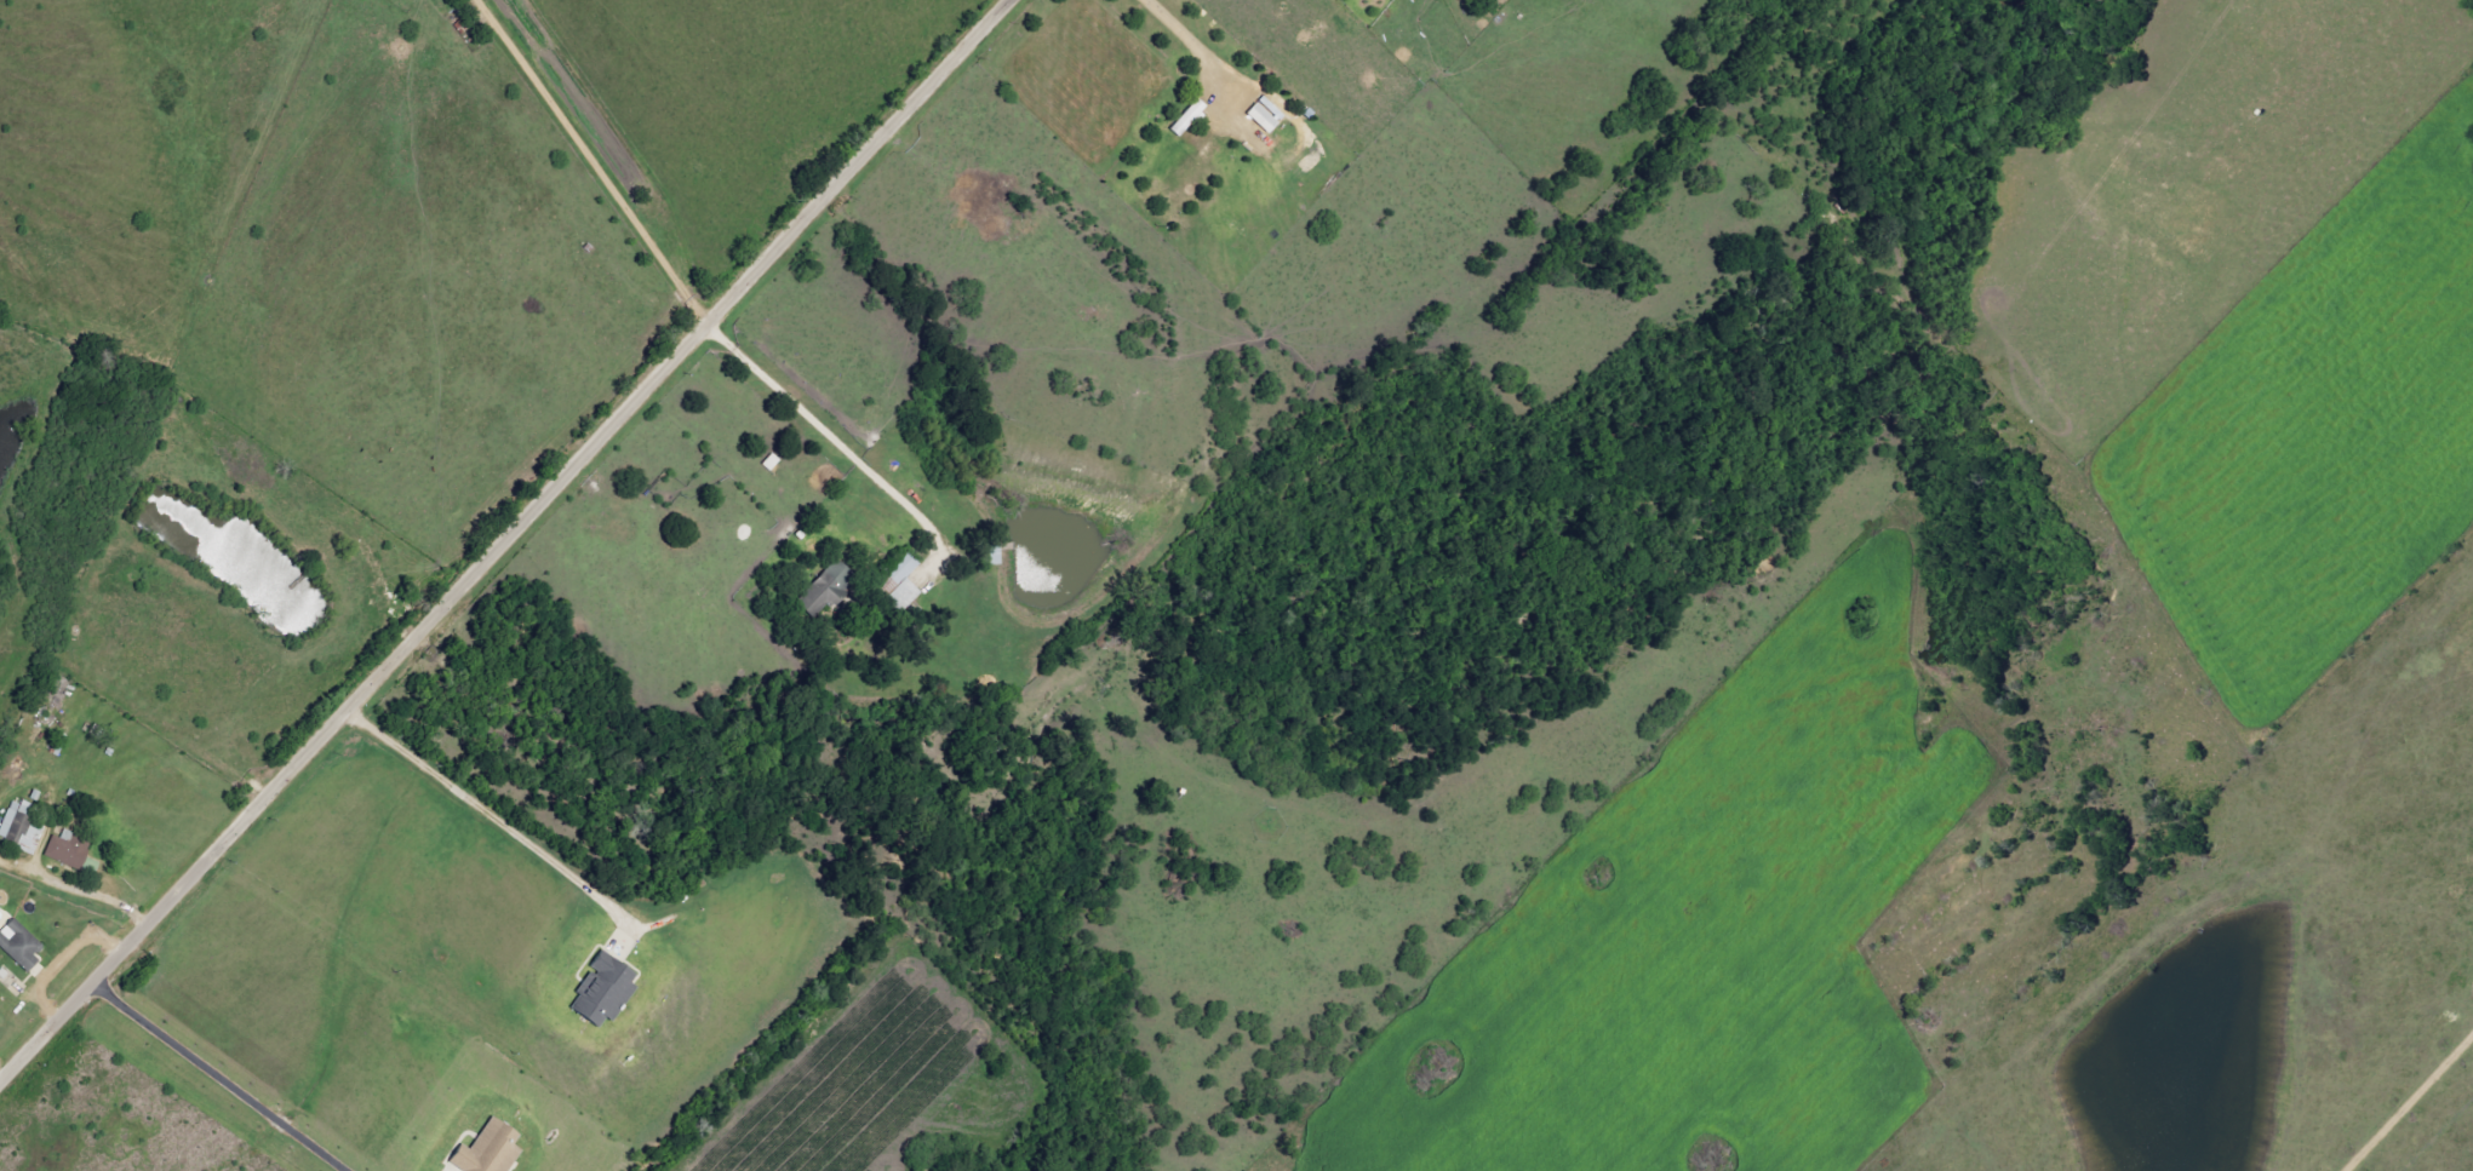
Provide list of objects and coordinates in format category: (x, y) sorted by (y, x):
road: (1183, 40)
building: (1263, 114)
building: (1186, 117)
road: (589, 163)
road: (830, 443)
road: (503, 538)
building: (992, 553)
building: (901, 585)
building: (820, 591)
building: (8, 819)
road: (491, 821)
building: (30, 839)
building: (68, 849)
road: (90, 896)
building: (18, 943)
road: (59, 964)
building: (601, 991)
road: (213, 1079)
road: (2420, 1117)
building: (486, 1152)

